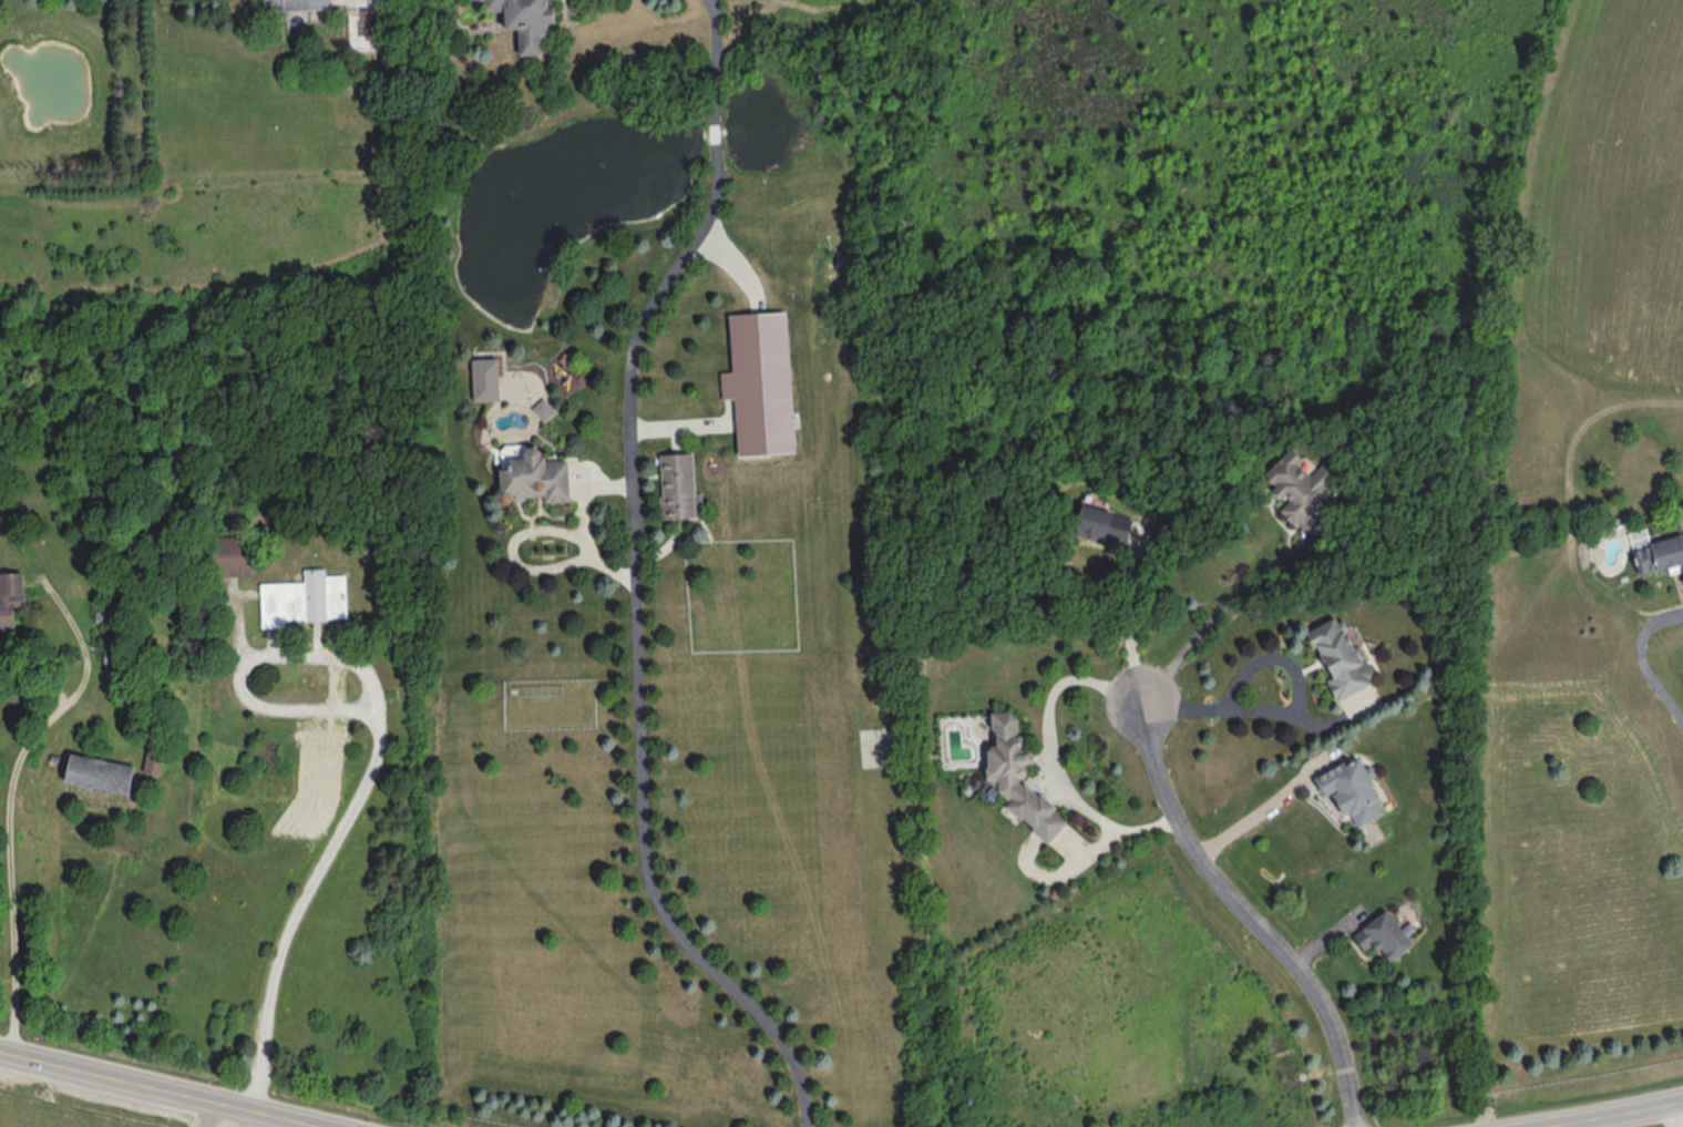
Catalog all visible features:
building: (298, 4)
building: (527, 21)
building: (762, 382)
building: (534, 477)
building: (1301, 483)
building: (679, 485)
building: (1106, 524)
building: (1661, 554)
building: (234, 556)
road: (630, 580)
building: (11, 600)
building: (305, 600)
road: (1214, 614)
road: (1132, 623)
building: (116, 657)
building: (1345, 662)
road: (1639, 662)
road: (1291, 710)
road: (376, 749)
road: (1047, 750)
building: (156, 757)
building: (103, 773)
building: (1020, 776)
building: (1356, 791)
road: (1254, 813)
road: (13, 854)
road: (1253, 915)
building: (1388, 936)
road: (175, 1086)
road: (216, 1113)
road: (1601, 1113)
road: (1676, 1114)
road: (345, 1126)

